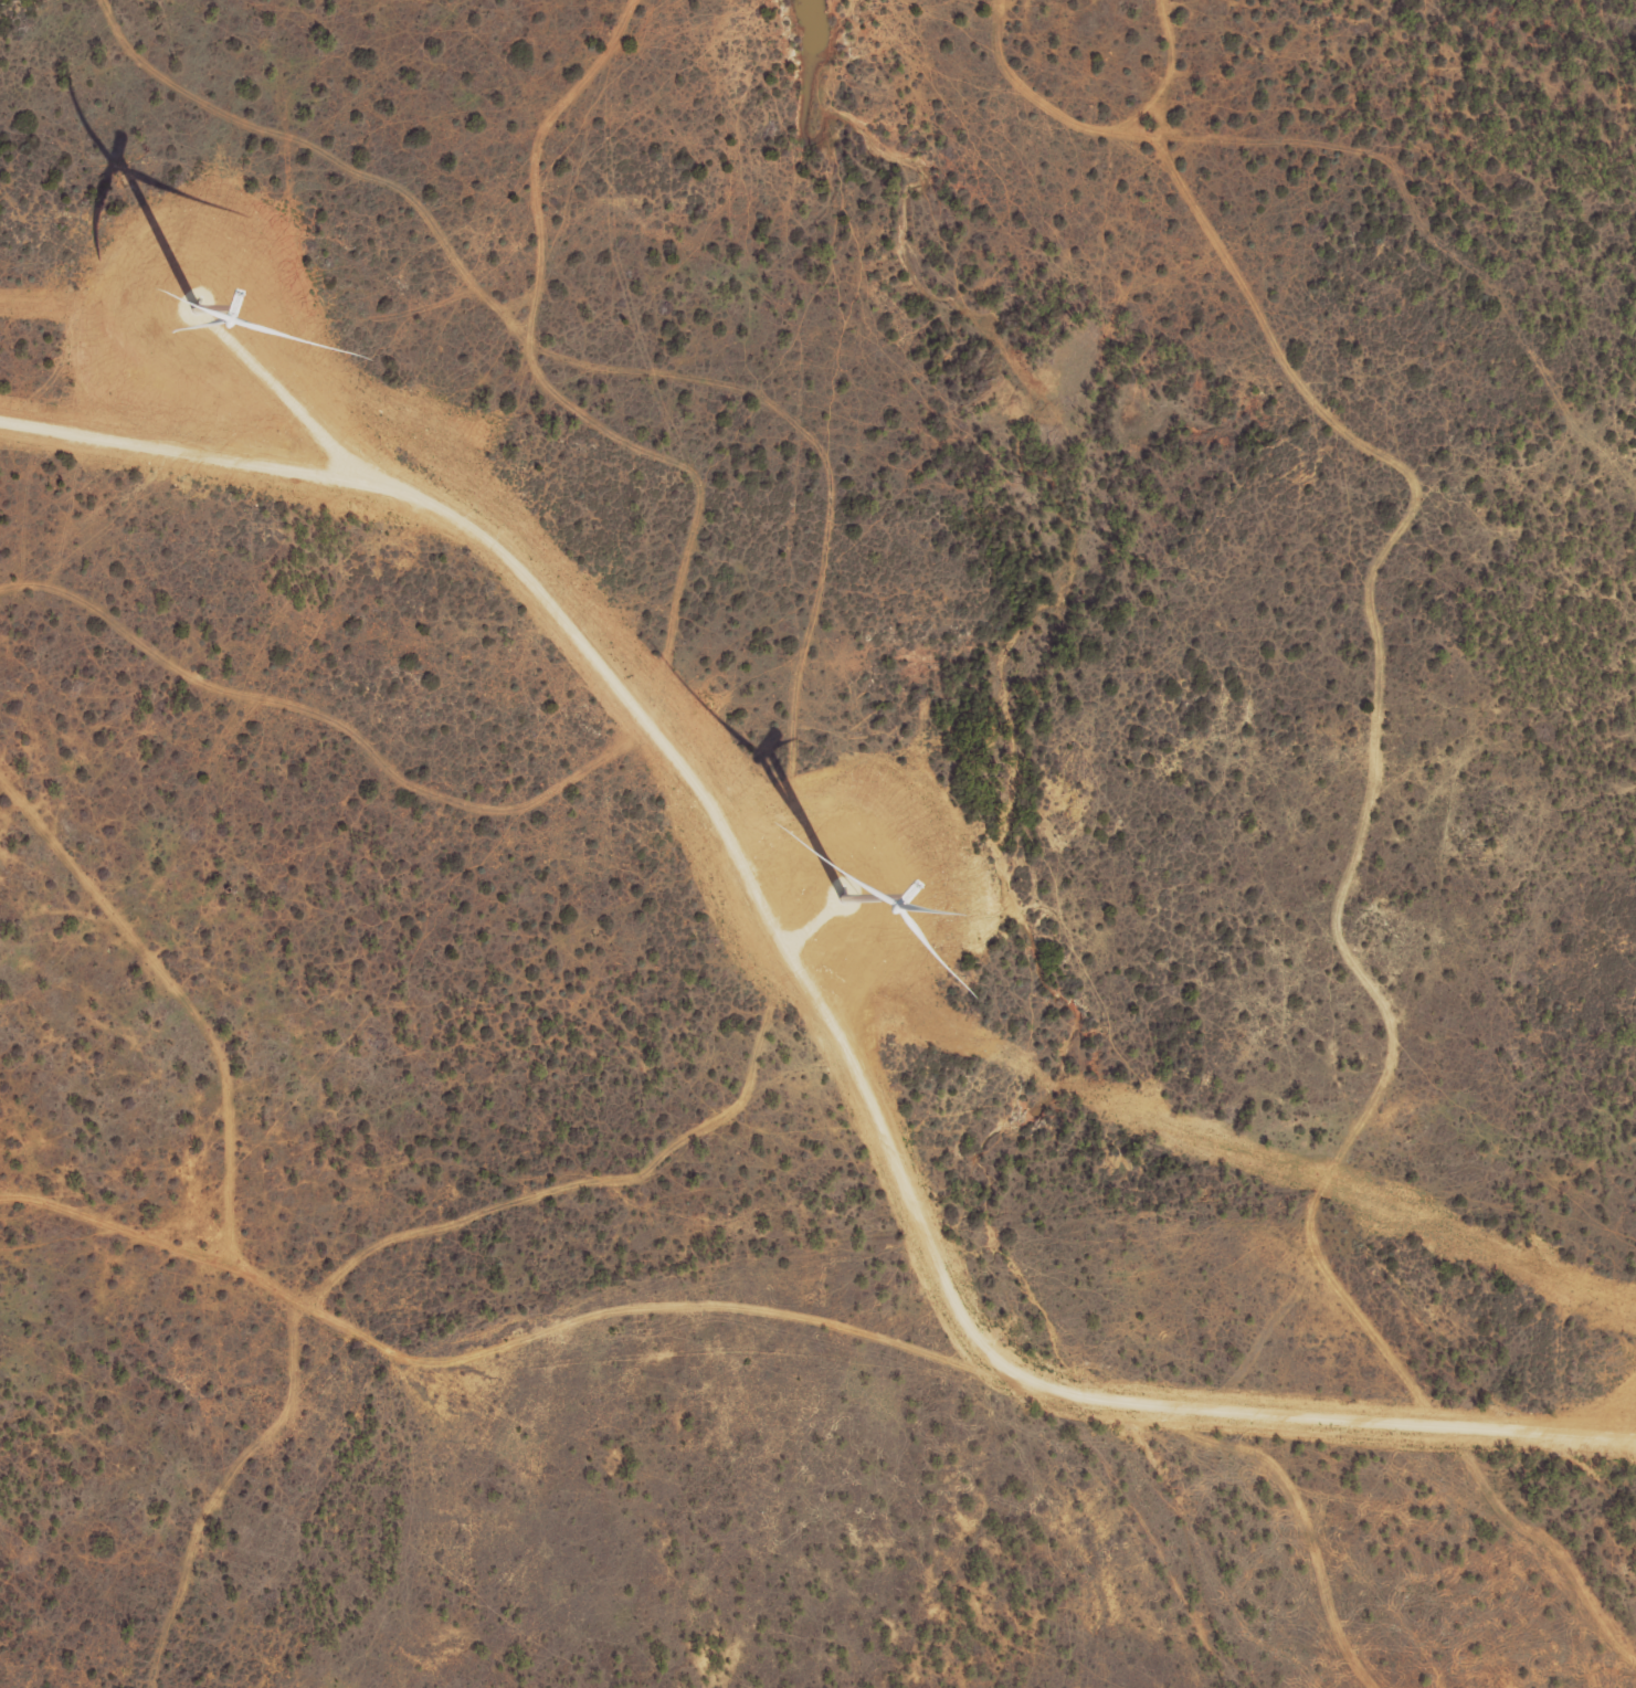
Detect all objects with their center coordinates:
road: (1412, 59)
wind turbine: (196, 306)
road: (306, 420)
road: (339, 467)
road: (737, 505)
road: (1506, 862)
wind turbine: (847, 895)
road: (812, 990)

